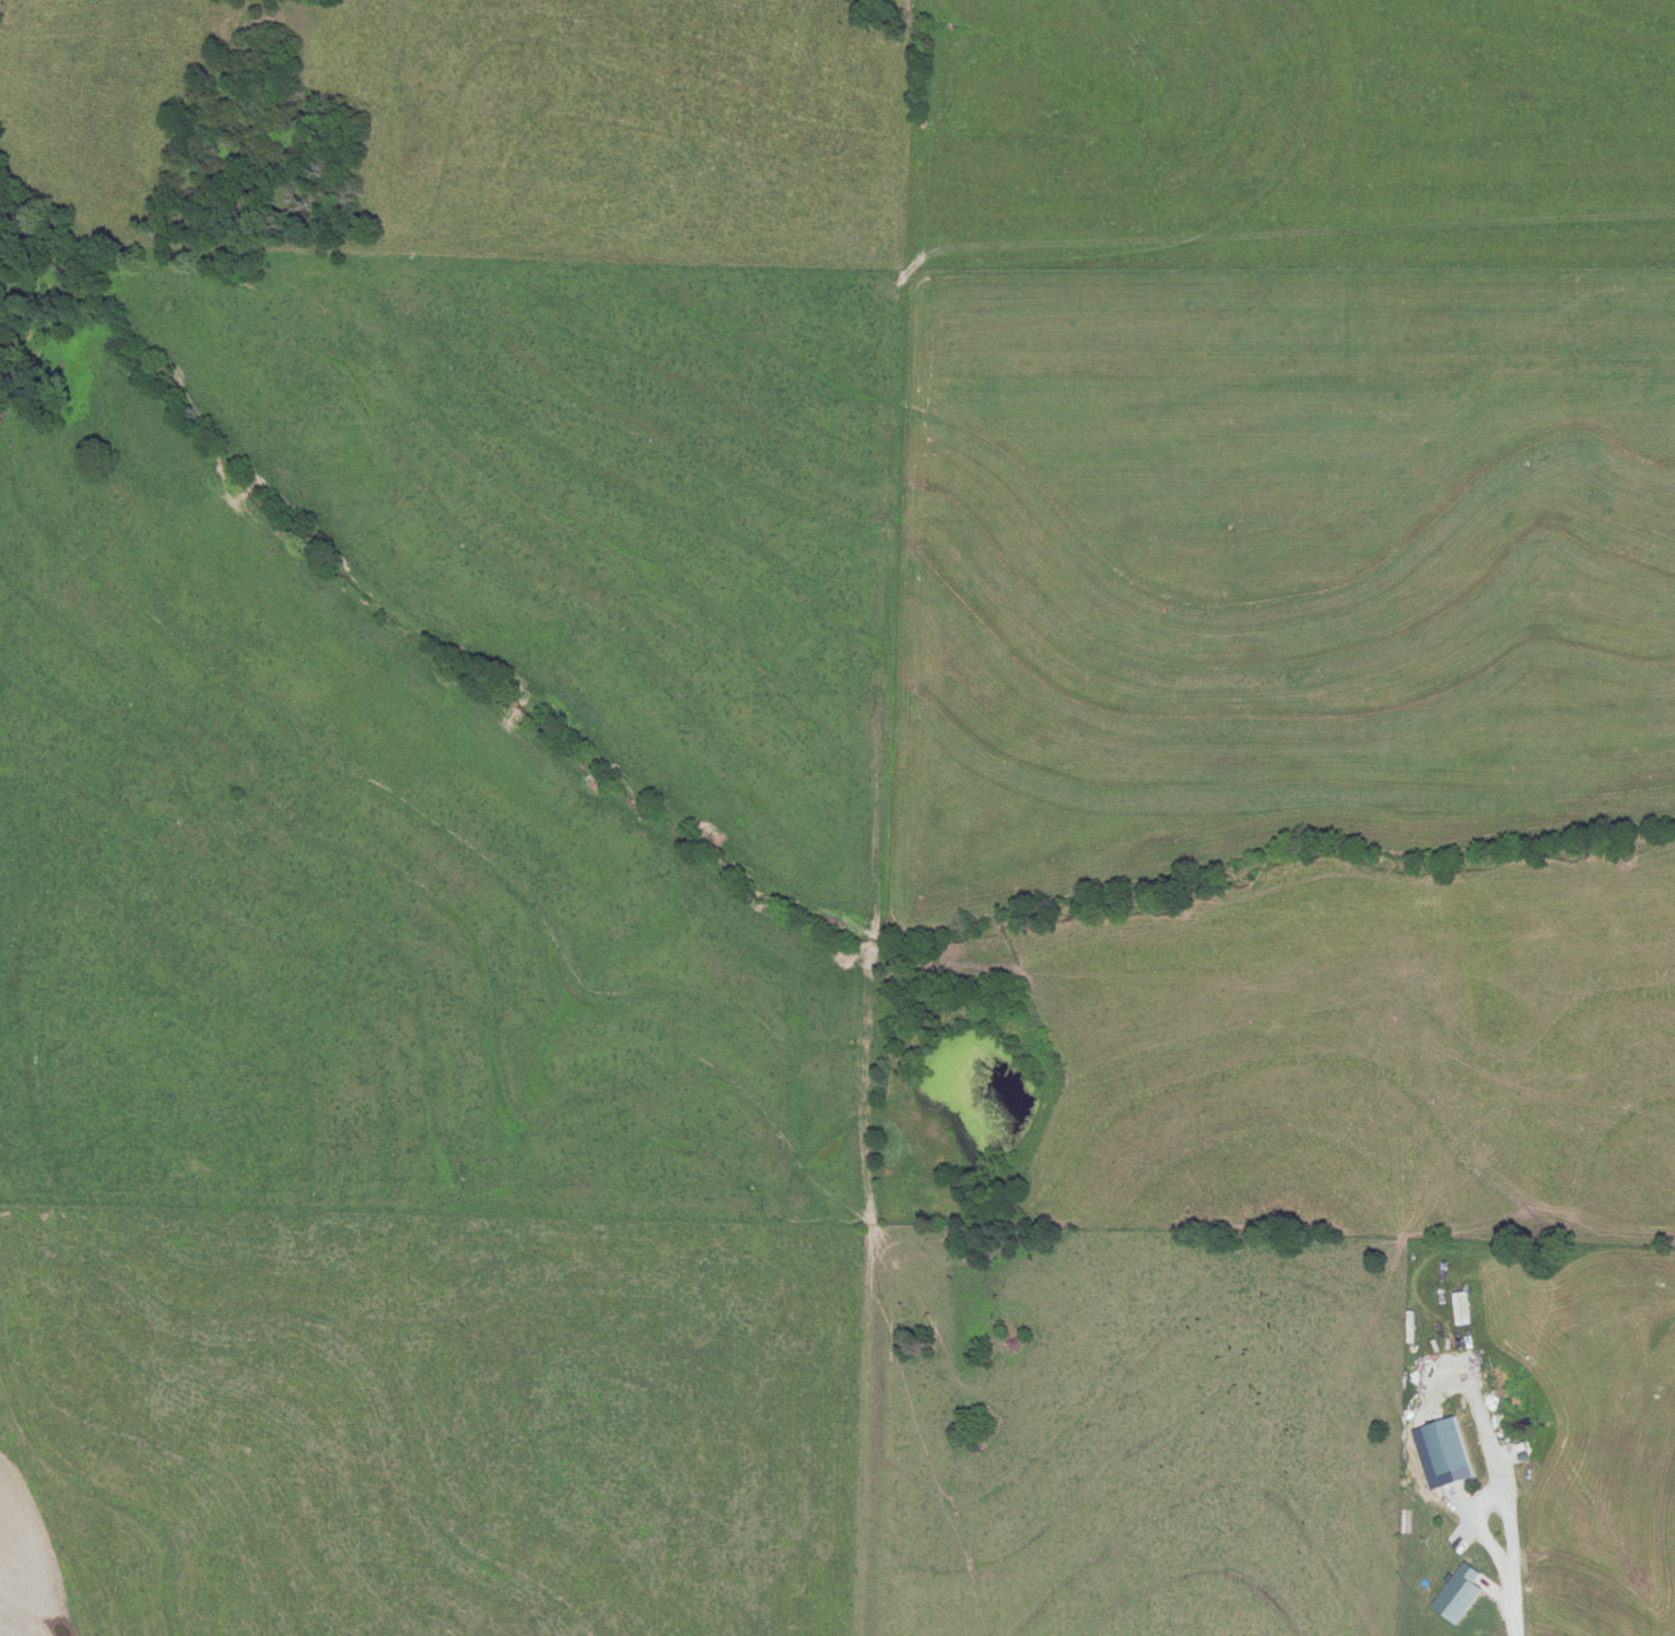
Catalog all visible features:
building: (1444, 1447)
road: (1475, 1519)
building: (1459, 1594)

